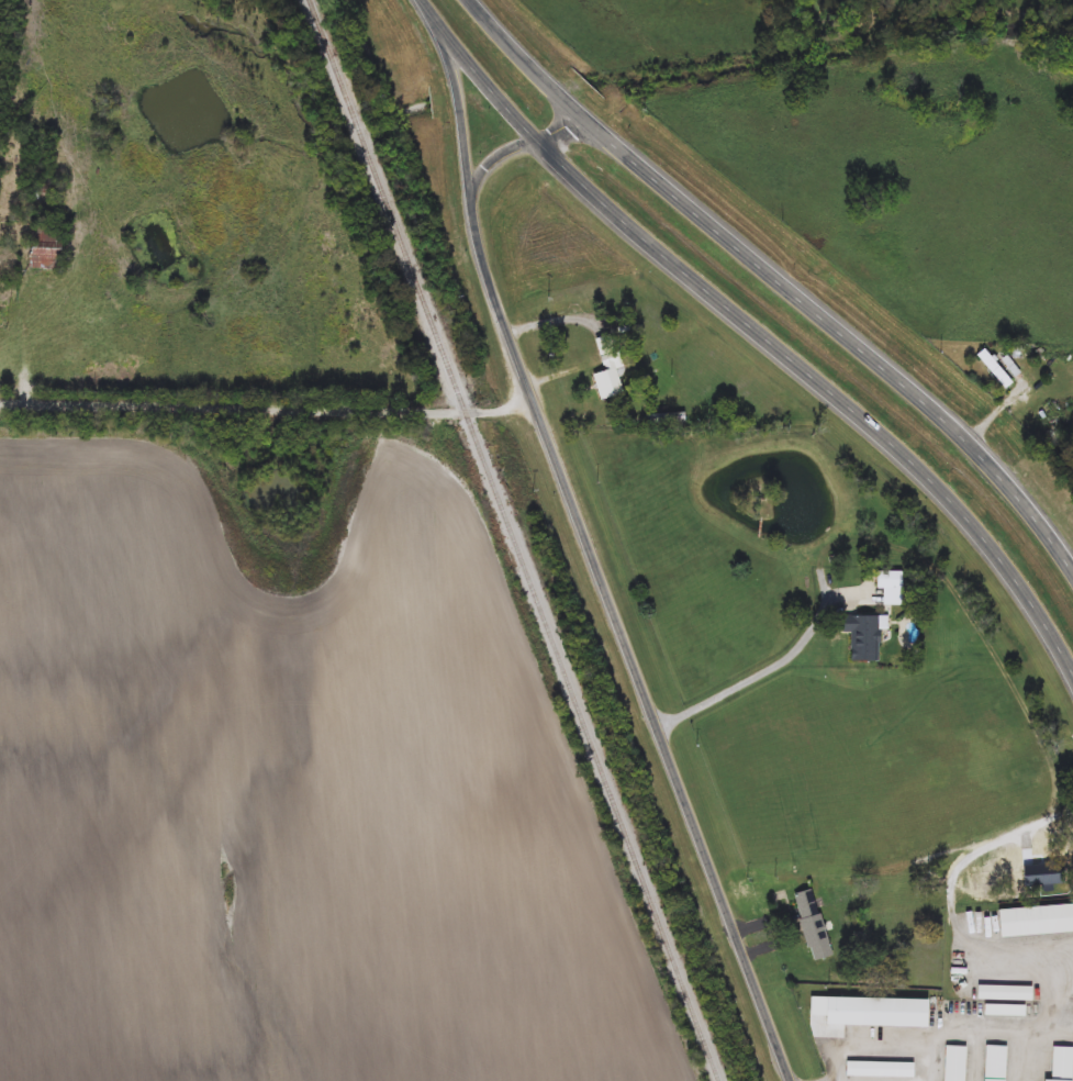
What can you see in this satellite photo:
road: (522, 59)
road: (458, 98)
road: (561, 130)
road: (495, 158)
building: (54, 248)
road: (755, 330)
road: (838, 332)
building: (611, 368)
building: (996, 369)
road: (268, 409)
building: (668, 420)
railway: (516, 540)
building: (891, 580)
building: (867, 638)
road: (626, 643)
road: (770, 669)
building: (972, 862)
building: (1037, 922)
building: (815, 926)
building: (1007, 994)
road: (1058, 1000)
building: (880, 1014)
road: (1009, 1034)
road: (873, 1043)
road: (935, 1059)
building: (955, 1063)
building: (997, 1063)
building: (1063, 1063)
building: (881, 1069)

